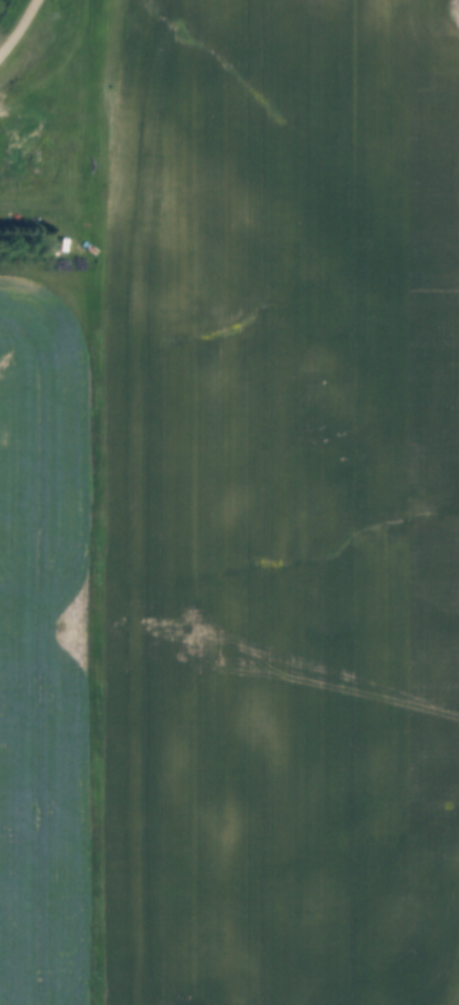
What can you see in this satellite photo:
road: (20, 28)

